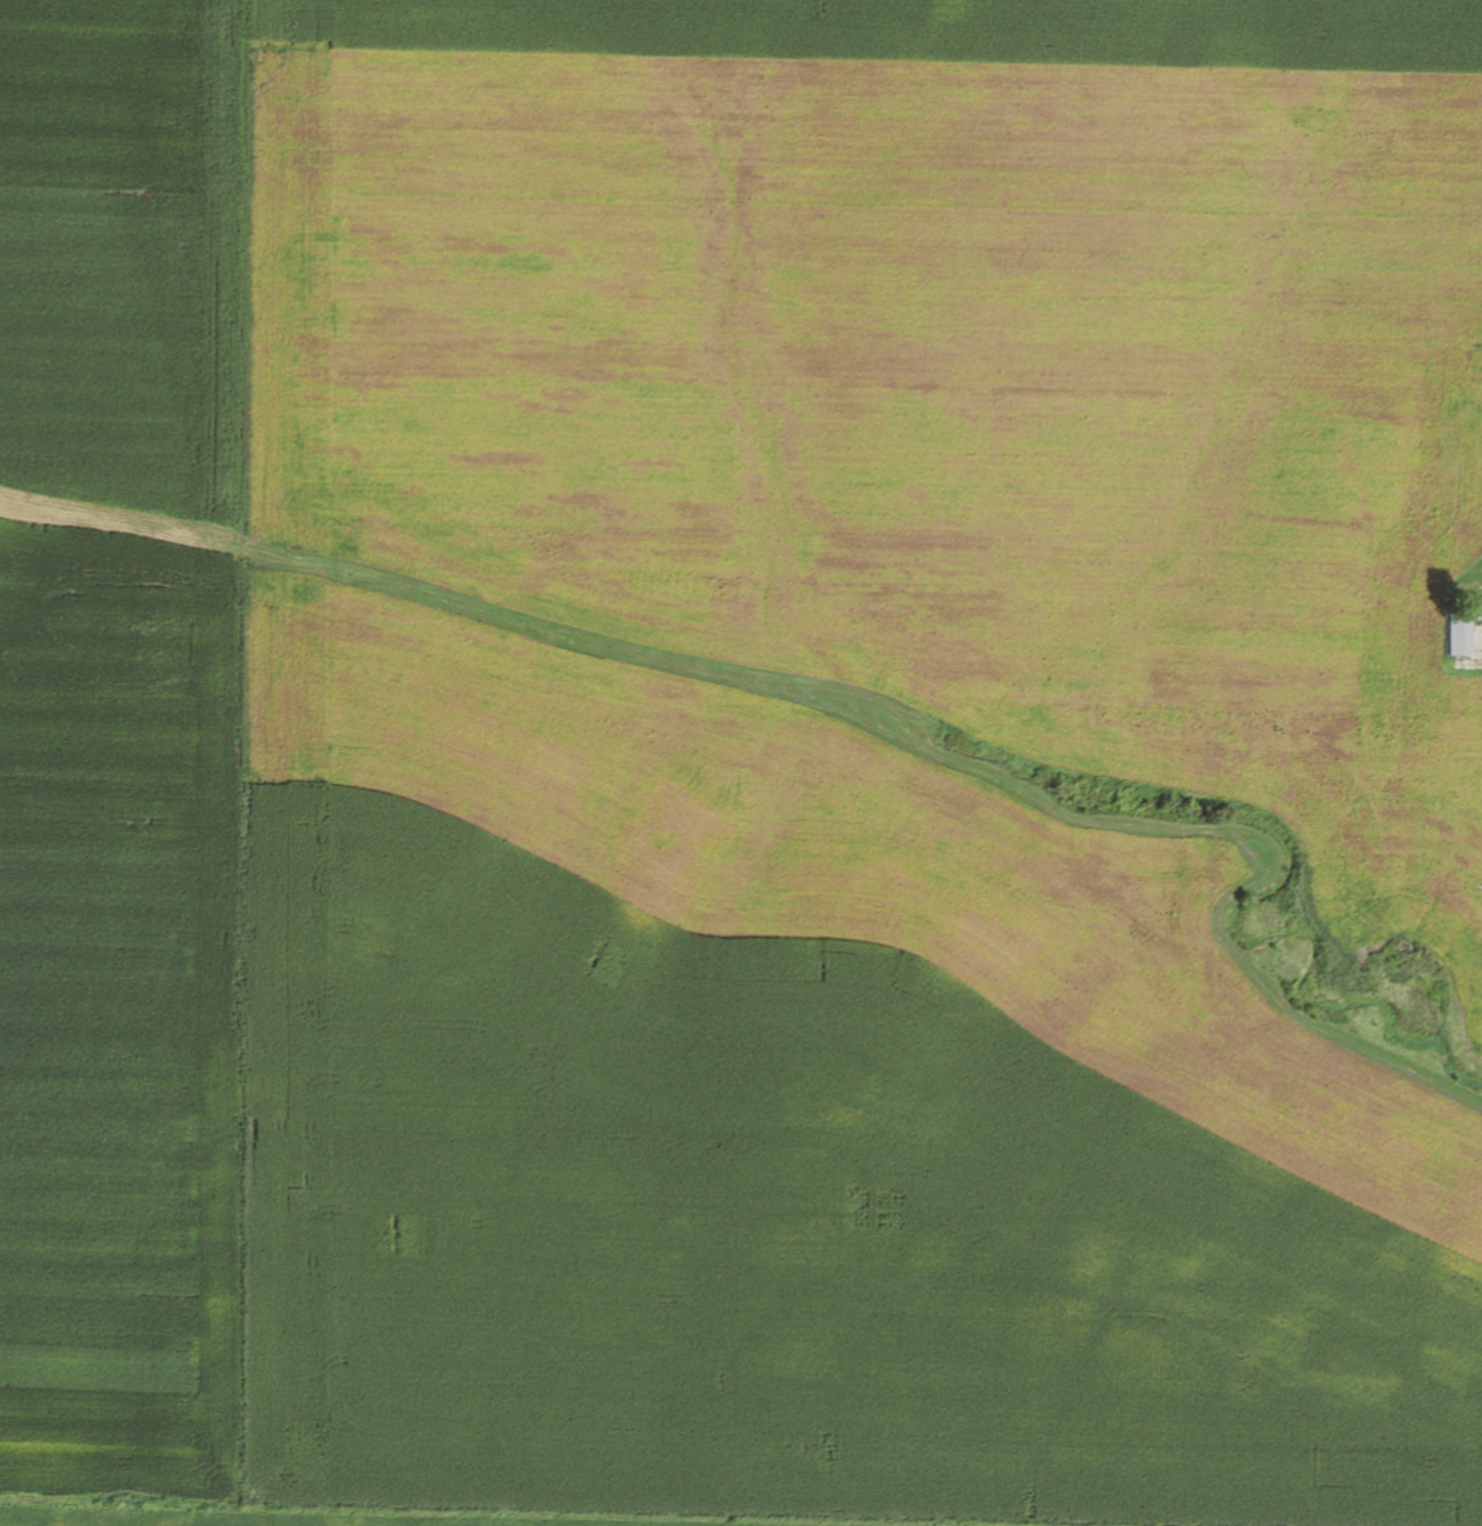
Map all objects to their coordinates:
building: (1460, 633)

